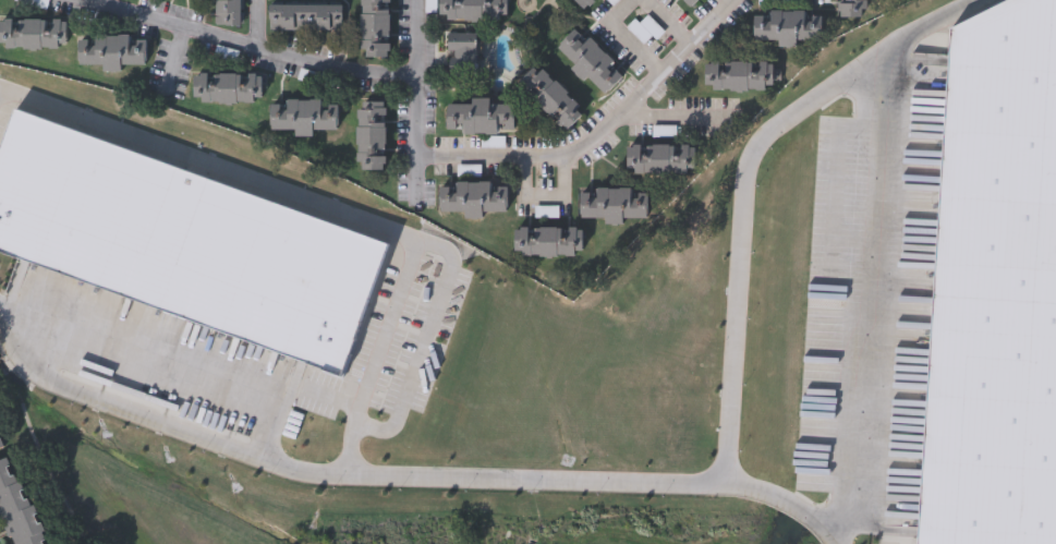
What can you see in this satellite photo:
building: (615, 2)
building: (584, 3)
building: (688, 3)
building: (852, 9)
building: (475, 11)
building: (230, 13)
building: (306, 17)
road: (667, 20)
road: (255, 22)
building: (375, 28)
building: (789, 28)
building: (647, 29)
building: (33, 34)
road: (624, 34)
building: (113, 51)
road: (280, 51)
building: (461, 57)
road: (175, 60)
building: (590, 62)
building: (740, 77)
building: (230, 89)
building: (554, 99)
building: (305, 117)
road: (666, 117)
building: (482, 118)
building: (371, 136)
road: (558, 157)
building: (659, 161)
road: (743, 181)
building: (474, 200)
road: (328, 205)
building: (612, 205)
building: (184, 239)
building: (550, 242)
building: (995, 287)
road: (871, 295)
road: (165, 359)
building: (1, 443)
building: (0, 451)
road: (340, 475)
road: (785, 498)
building: (17, 507)

